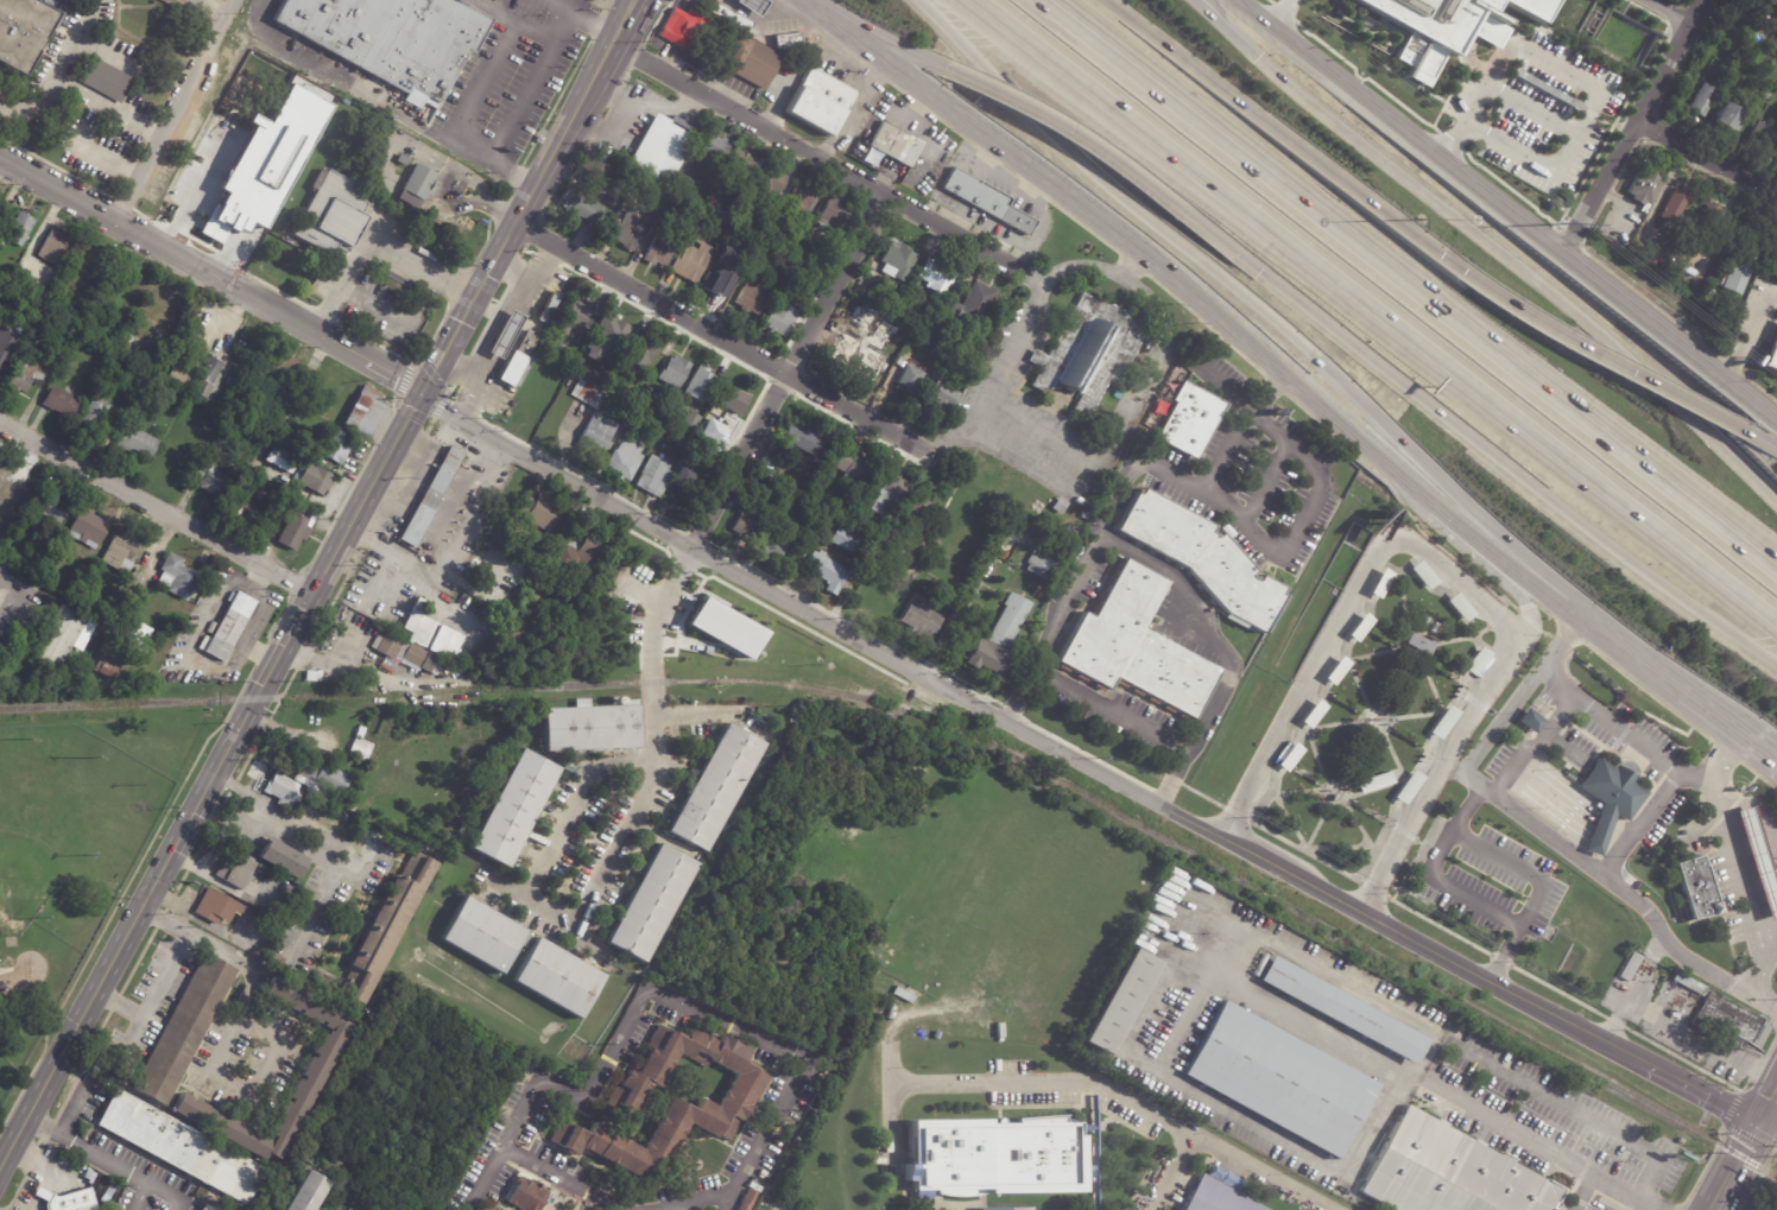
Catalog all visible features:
road: (778, 0)
road: (811, 5)
road: (214, 6)
building: (751, 6)
gas station: (751, 6)
parking lot: (215, 7)
road: (780, 7)
road: (1672, 12)
road: (798, 14)
road: (1283, 15)
building: (729, 18)
road: (588, 20)
road: (557, 23)
building: (682, 26)
building: (1441, 26)
building: (24, 32)
road: (823, 32)
road: (622, 39)
road: (884, 39)
building: (786, 40)
road: (839, 45)
building: (398, 49)
road: (856, 58)
building: (751, 62)
road: (877, 74)
parking lot: (94, 77)
building: (103, 78)
road: (524, 87)
road: (65, 88)
road: (898, 88)
road: (474, 95)
building: (1705, 100)
building: (820, 101)
road: (944, 103)
road: (32, 104)
road: (922, 107)
road: (668, 112)
road: (856, 113)
road: (169, 114)
road: (618, 115)
building: (1729, 118)
building: (1605, 119)
road: (1398, 126)
road: (1636, 126)
road: (956, 133)
building: (1763, 134)
road: (1282, 135)
road: (565, 141)
building: (894, 144)
road: (84, 148)
building: (715, 150)
road: (1100, 150)
building: (660, 151)
road: (988, 156)
road: (1561, 156)
road: (1708, 159)
building: (1776, 161)
road: (824, 163)
building: (740, 164)
road: (1008, 171)
building: (596, 172)
building: (196, 173)
building: (417, 182)
building: (773, 183)
building: (684, 184)
road: (1030, 186)
building: (1645, 188)
building: (650, 190)
building: (613, 199)
building: (799, 199)
building: (987, 202)
building: (580, 207)
building: (672, 207)
building: (1676, 207)
building: (194, 210)
building: (690, 211)
building: (333, 215)
building: (770, 215)
building: (1713, 215)
building: (830, 217)
road: (1080, 223)
building: (21, 229)
building: (626, 233)
road: (373, 240)
building: (792, 240)
building: (728, 241)
road: (1487, 243)
building: (51, 247)
building: (657, 252)
building: (810, 253)
building: (761, 259)
building: (896, 261)
building: (690, 262)
road: (1133, 264)
road: (1079, 267)
road: (511, 268)
building: (1738, 272)
building: (936, 278)
building: (1773, 278)
road: (1410, 281)
building: (719, 284)
road: (211, 285)
building: (879, 291)
building: (549, 293)
building: (202, 299)
building: (750, 299)
road: (1620, 299)
road: (508, 300)
road: (1256, 303)
building: (887, 305)
building: (970, 308)
road: (1377, 312)
building: (871, 313)
building: (576, 318)
building: (779, 319)
building: (188, 323)
road: (1207, 324)
building: (888, 325)
building: (612, 328)
building: (504, 336)
road: (725, 336)
building: (594, 338)
road: (1747, 338)
building: (525, 347)
building: (7, 349)
building: (640, 350)
building: (1087, 353)
building: (1770, 353)
road: (1157, 356)
building: (860, 357)
road: (1598, 360)
building: (530, 361)
building: (279, 366)
building: (181, 368)
building: (512, 368)
building: (110, 370)
building: (674, 372)
road: (783, 374)
road: (1003, 376)
building: (24, 379)
building: (210, 379)
building: (909, 381)
road: (1727, 384)
road: (476, 385)
building: (698, 385)
road: (1277, 386)
building: (607, 387)
building: (942, 387)
building: (321, 388)
building: (587, 394)
building: (732, 400)
traffic signals: (423, 401)
building: (61, 404)
road: (1322, 411)
building: (362, 412)
building: (94, 413)
building: (1187, 419)
building: (634, 423)
building: (690, 423)
road: (1045, 430)
building: (712, 431)
building: (595, 436)
building: (801, 439)
building: (681, 442)
building: (135, 444)
road: (1762, 445)
building: (330, 446)
building: (215, 449)
building: (707, 455)
building: (625, 458)
building: (280, 460)
road: (1505, 464)
building: (767, 468)
building: (854, 468)
building: (826, 469)
building: (200, 473)
building: (652, 477)
building: (312, 479)
building: (684, 482)
road: (1261, 482)
building: (214, 483)
building: (702, 483)
building: (890, 493)
road: (1119, 494)
building: (265, 495)
building: (11, 496)
building: (429, 500)
building: (791, 500)
building: (240, 503)
building: (1060, 506)
building: (916, 507)
road: (1404, 507)
road: (157, 508)
building: (51, 509)
building: (769, 509)
building: (540, 513)
building: (1086, 517)
building: (274, 519)
road: (1299, 521)
building: (1083, 524)
building: (295, 527)
building: (745, 527)
building: (87, 530)
building: (267, 532)
building: (1073, 532)
building: (843, 540)
building: (935, 544)
road: (1380, 545)
building: (776, 551)
building: (121, 552)
building: (529, 553)
building: (1200, 556)
building: (580, 557)
building: (1044, 569)
building: (134, 570)
building: (827, 572)
building: (555, 575)
building: (176, 578)
building: (1041, 593)
road: (12, 594)
road: (965, 603)
road: (1525, 606)
road: (1526, 606)
road: (1545, 610)
building: (922, 621)
road: (818, 622)
building: (419, 627)
building: (1359, 627)
building: (723, 628)
building: (228, 629)
road: (1569, 631)
building: (516, 632)
building: (545, 635)
building: (62, 638)
building: (140, 638)
building: (1000, 640)
building: (1136, 641)
building: (1419, 642)
road: (1223, 652)
building: (403, 653)
road: (194, 655)
road: (1630, 655)
building: (1478, 663)
road: (352, 669)
building: (106, 670)
building: (1335, 671)
road: (261, 685)
road: (1648, 692)
road: (1563, 704)
road: (1112, 710)
road: (1712, 715)
building: (1531, 721)
railway: (943, 722)
road: (1499, 722)
building: (592, 726)
building: (359, 731)
road: (1626, 737)
road: (660, 747)
building: (359, 748)
road: (1759, 749)
road: (1727, 750)
building: (569, 767)
road: (1760, 775)
building: (321, 777)
building: (1373, 781)
building: (713, 786)
road: (1245, 788)
building: (282, 790)
building: (1612, 796)
road: (1422, 798)
building: (513, 807)
road: (1760, 811)
road: (1526, 816)
road: (236, 822)
road: (330, 841)
building: (282, 859)
building: (1759, 859)
gas station: (1759, 859)
road: (1522, 863)
building: (235, 869)
road: (1289, 876)
road: (1741, 876)
road: (1620, 887)
building: (1696, 887)
road: (1455, 888)
building: (651, 901)
building: (215, 906)
building: (278, 907)
building: (382, 926)
building: (483, 936)
road: (1770, 942)
building: (257, 952)
building: (1630, 967)
building: (558, 977)
building: (318, 980)
building: (1690, 984)
building: (903, 995)
building: (1128, 1000)
building: (1348, 1009)
road: (1560, 1018)
building: (1727, 1024)
building: (183, 1030)
road: (230, 1035)
road: (1166, 1063)
building: (312, 1066)
building: (1288, 1079)
road: (595, 1082)
road: (1123, 1100)
building: (669, 1103)
road: (1769, 1106)
road: (1576, 1111)
road: (1772, 1111)
traffic signals: (1760, 1122)
road: (760, 1142)
road: (1536, 1142)
building: (177, 1147)
building: (1093, 1148)
building: (991, 1153)
railway: (1747, 1155)
road: (110, 1159)
road: (1734, 1165)
building: (1454, 1171)
road: (1171, 1173)
road: (486, 1178)
building: (754, 1187)
building: (109, 1191)
road: (1582, 1191)
building: (305, 1193)
building: (527, 1195)
building: (1222, 1197)
building: (747, 1201)
building: (70, 1202)
road: (1734, 1202)
building: (101, 1203)
road: (701, 1204)
road: (1638, 1204)
building: (1003, 1206)
building: (205, 1208)

